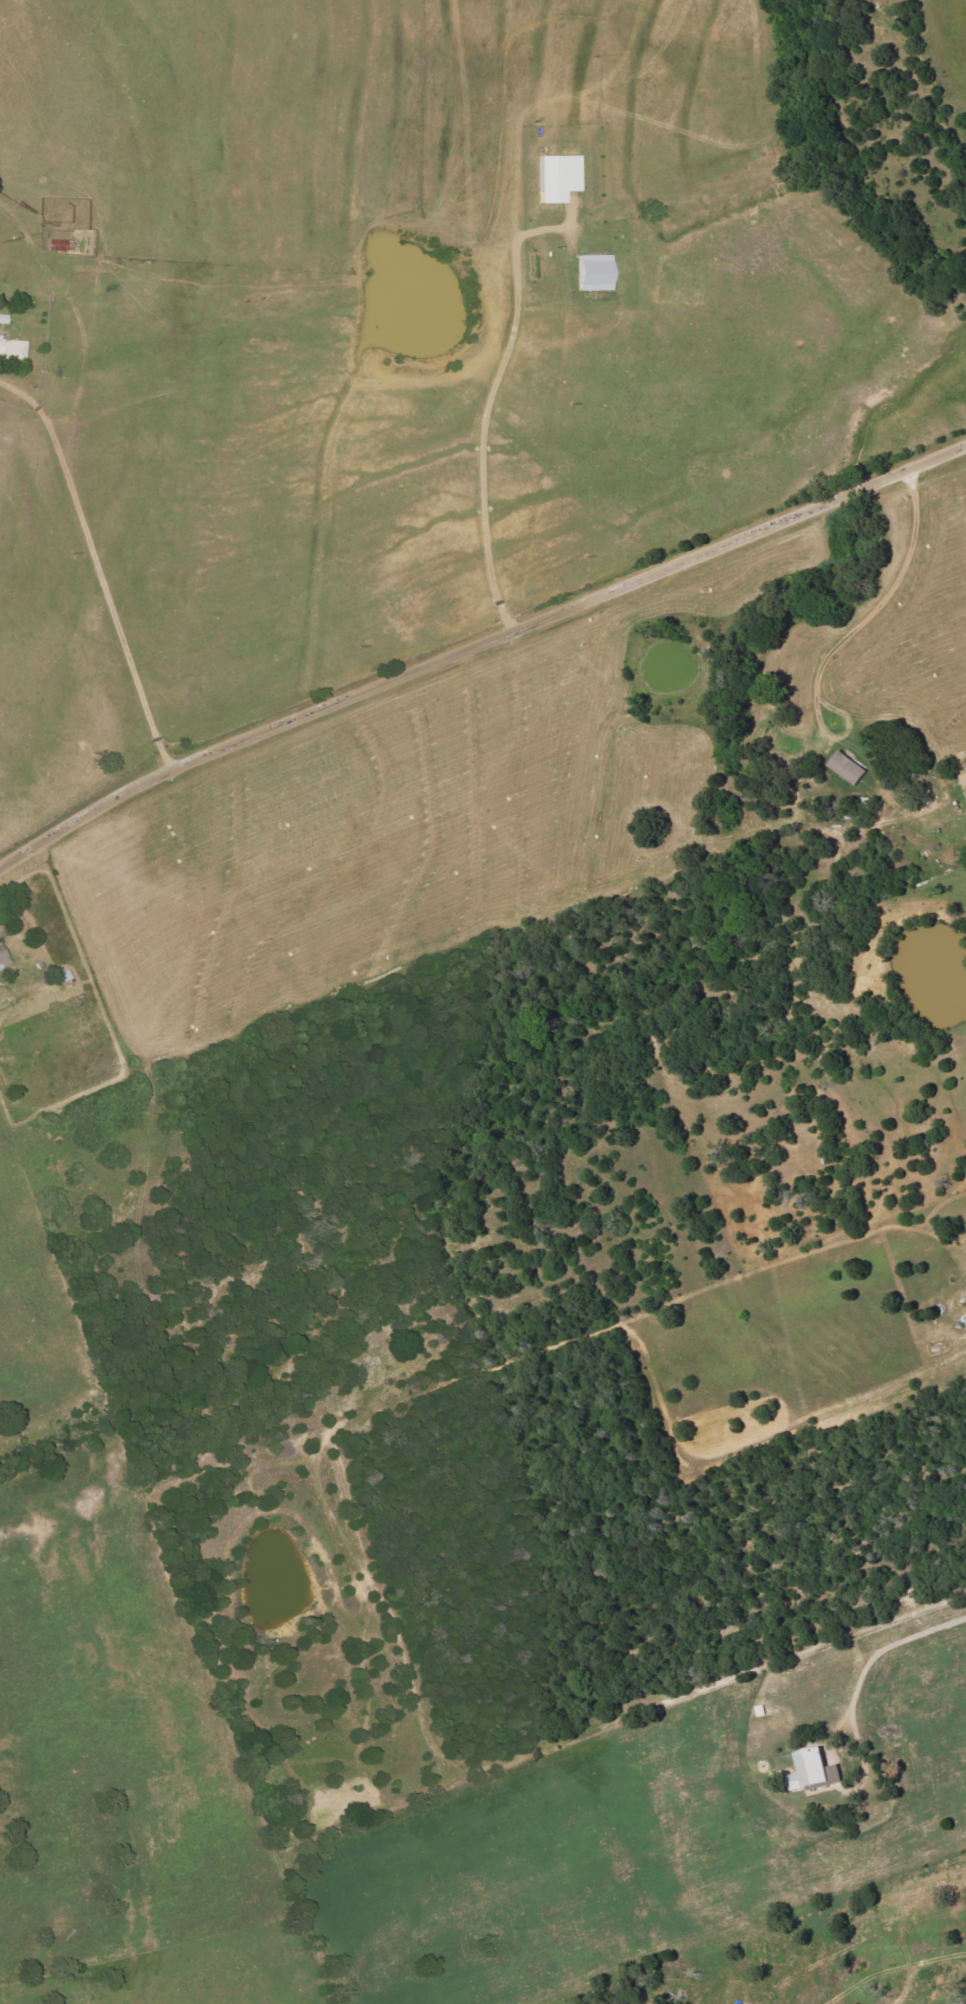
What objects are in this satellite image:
building: (559, 177)
building: (59, 245)
building: (596, 272)
building: (12, 350)
road: (485, 409)
road: (108, 564)
road: (856, 636)
road: (476, 645)
building: (848, 767)
building: (3, 959)
road: (887, 1648)
building: (815, 1771)

